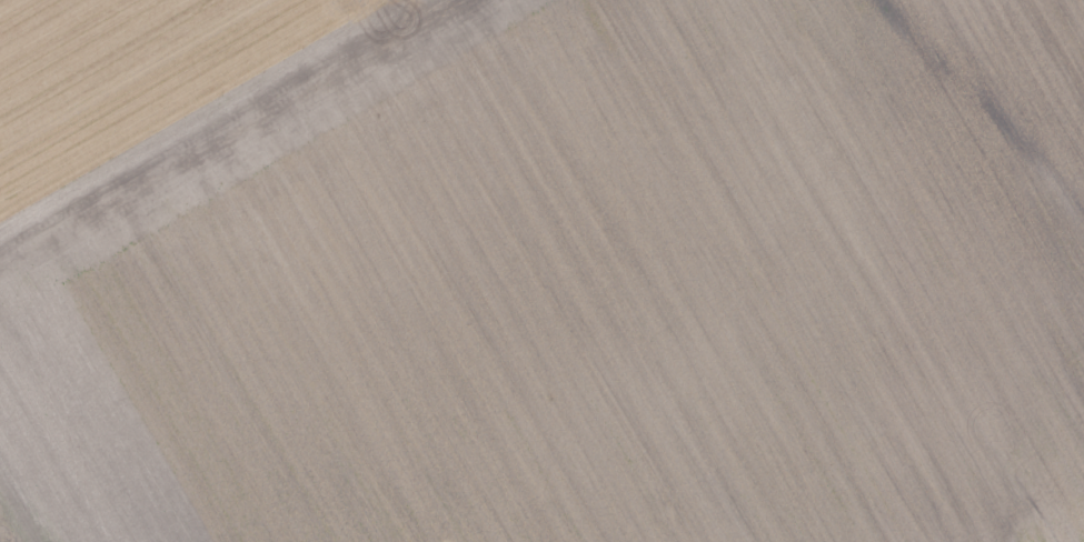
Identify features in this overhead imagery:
road: (1081, 6)

